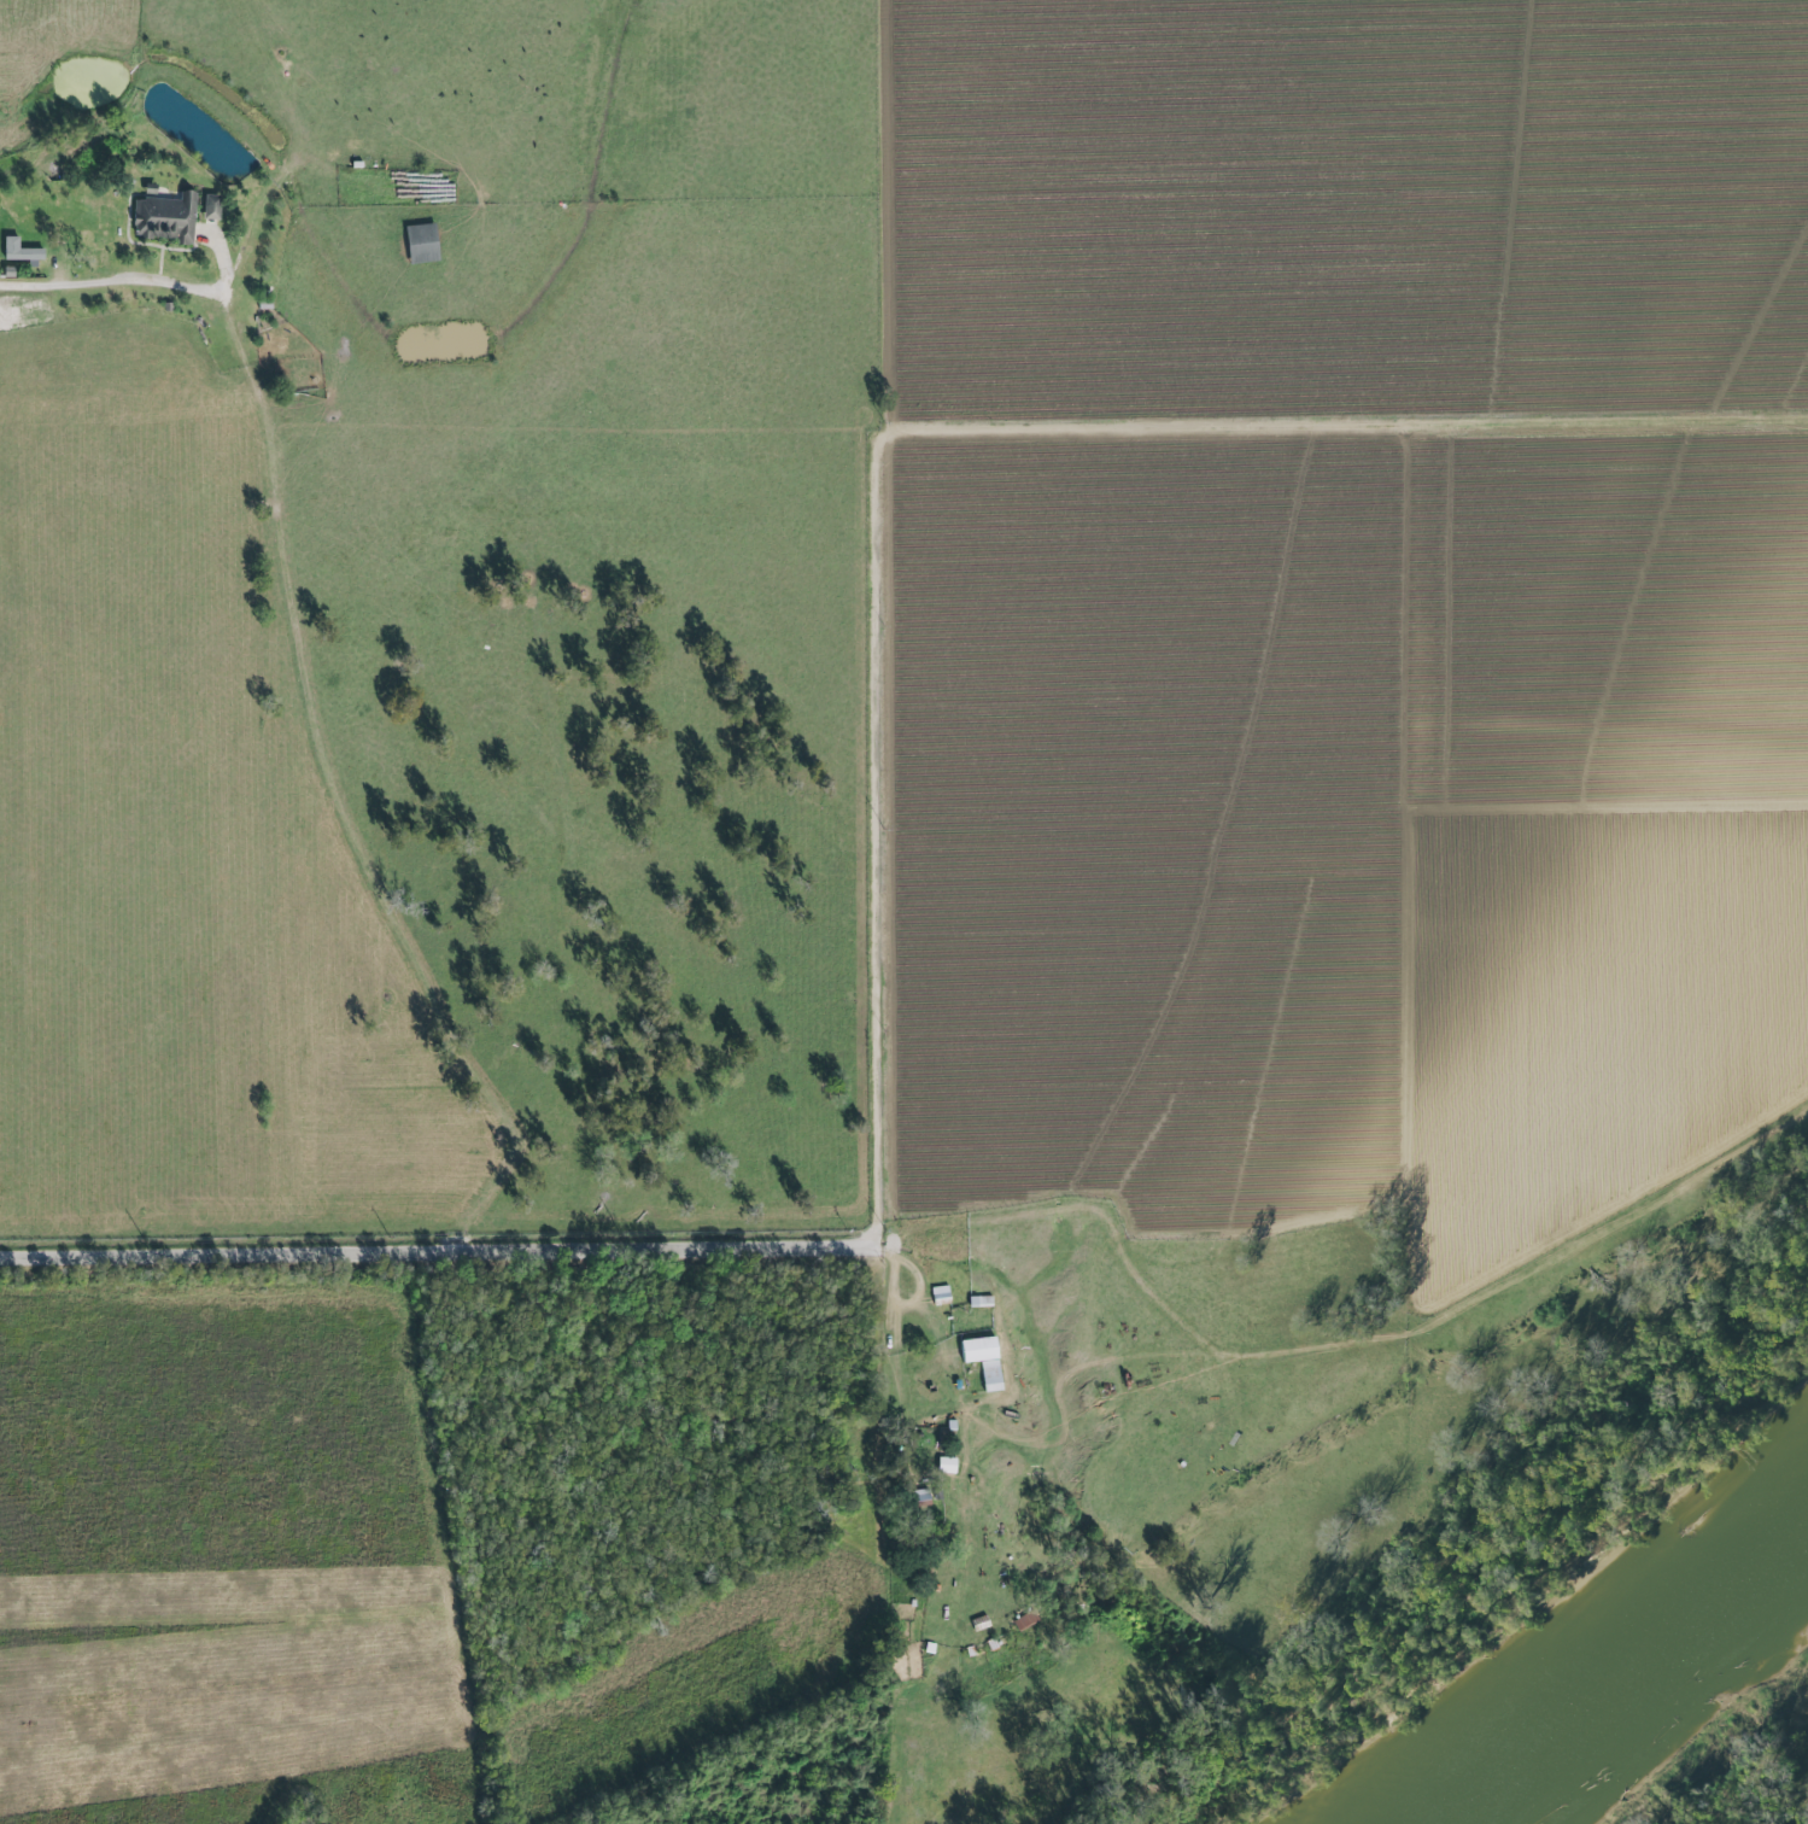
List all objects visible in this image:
building: (211, 207)
building: (166, 220)
building: (421, 244)
building: (19, 251)
road: (80, 296)
road: (942, 431)
road: (1223, 823)
road: (574, 1249)
road: (914, 1275)
building: (941, 1294)
building: (981, 1302)
road: (1353, 1340)
building: (978, 1349)
building: (990, 1376)
river: (1608, 1661)

